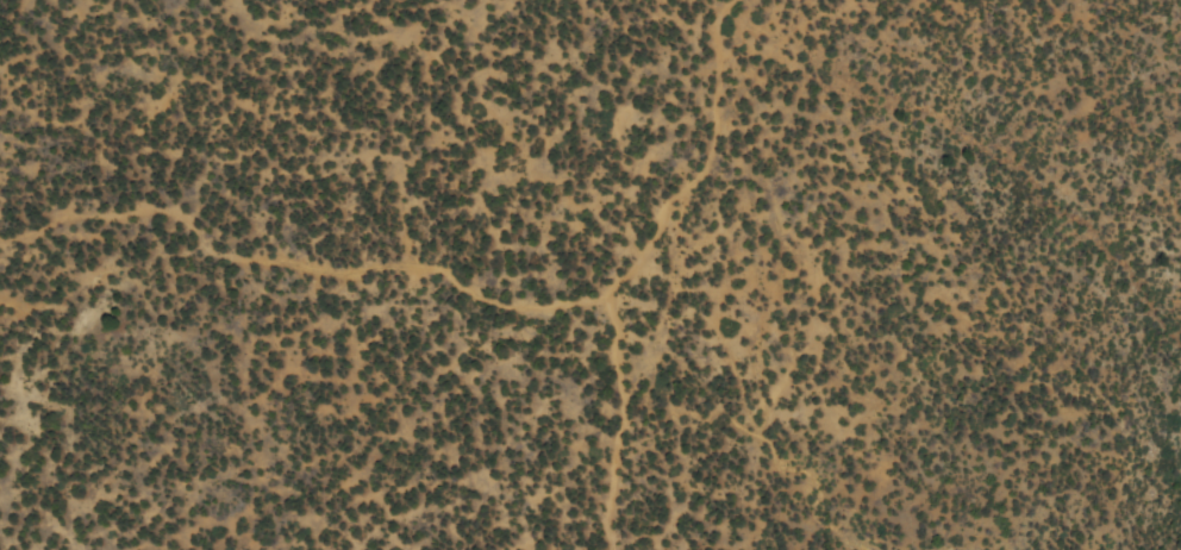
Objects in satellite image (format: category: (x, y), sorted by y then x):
road: (712, 273)

